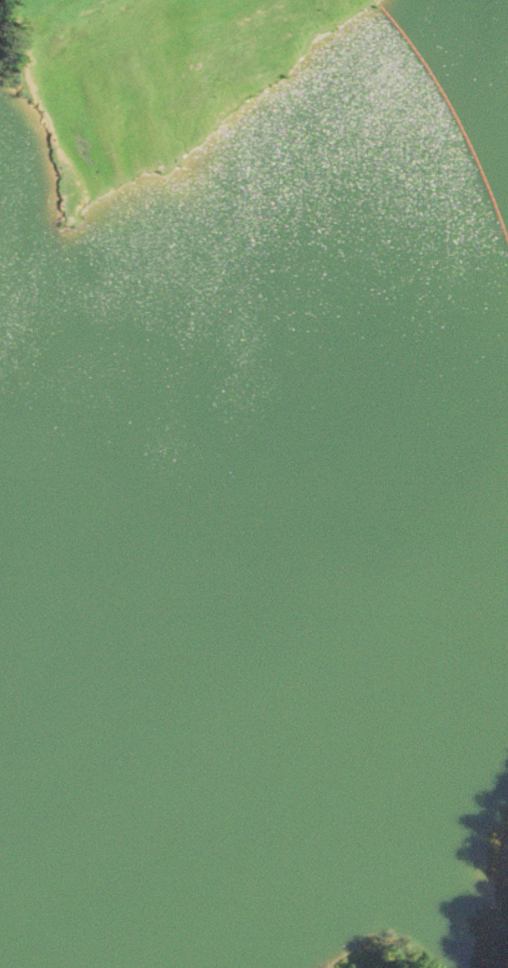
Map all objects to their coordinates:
river: (289, 775)

